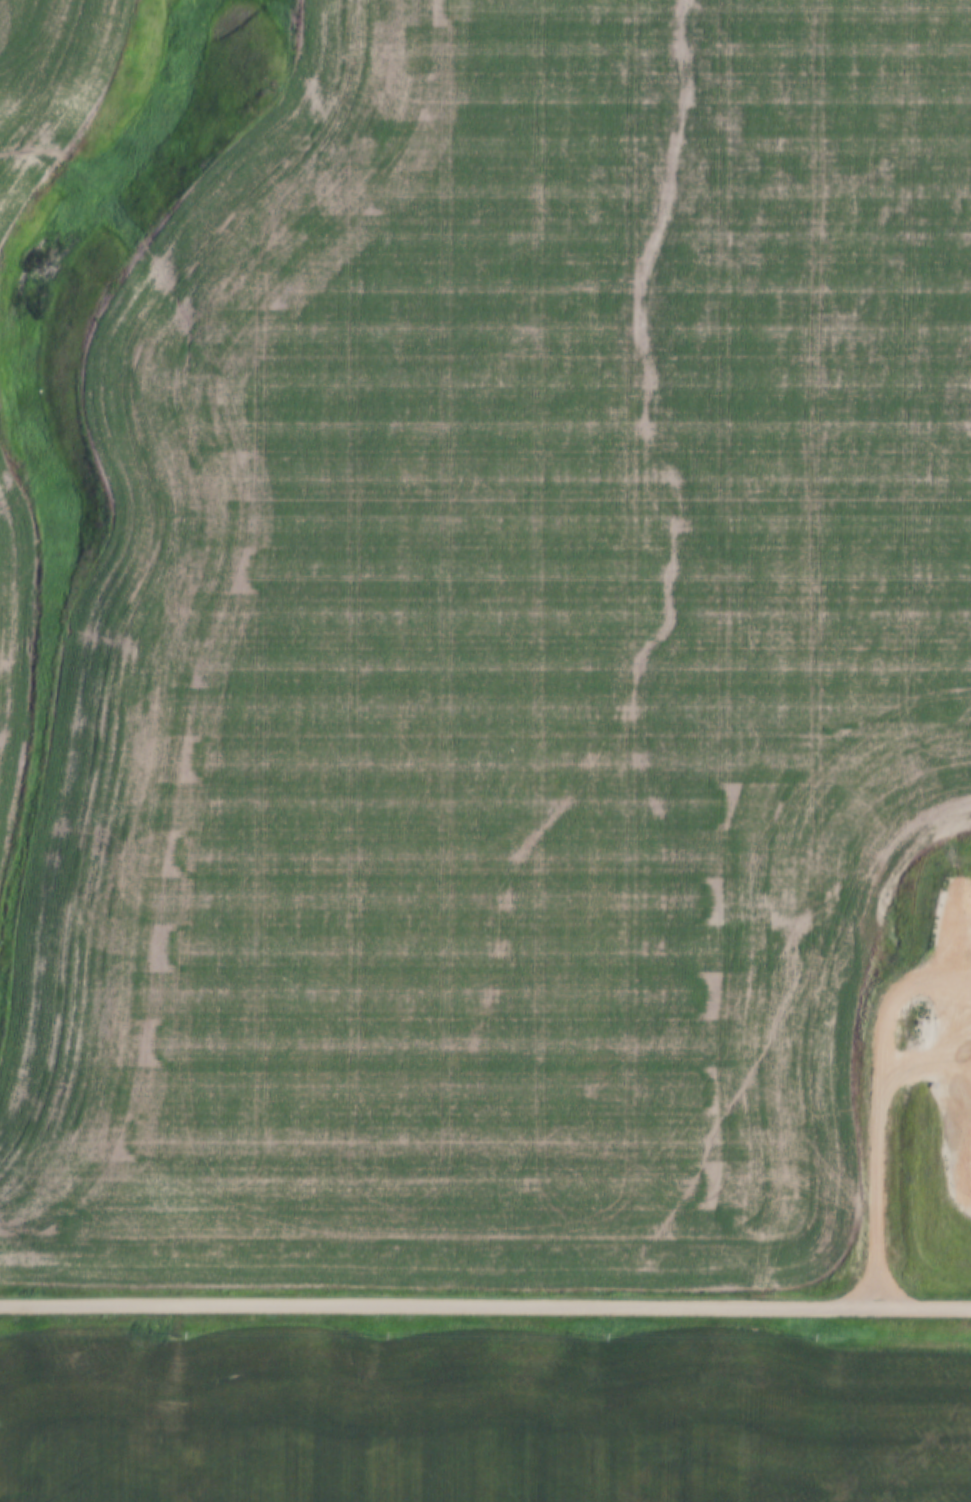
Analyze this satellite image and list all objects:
road: (485, 1307)

